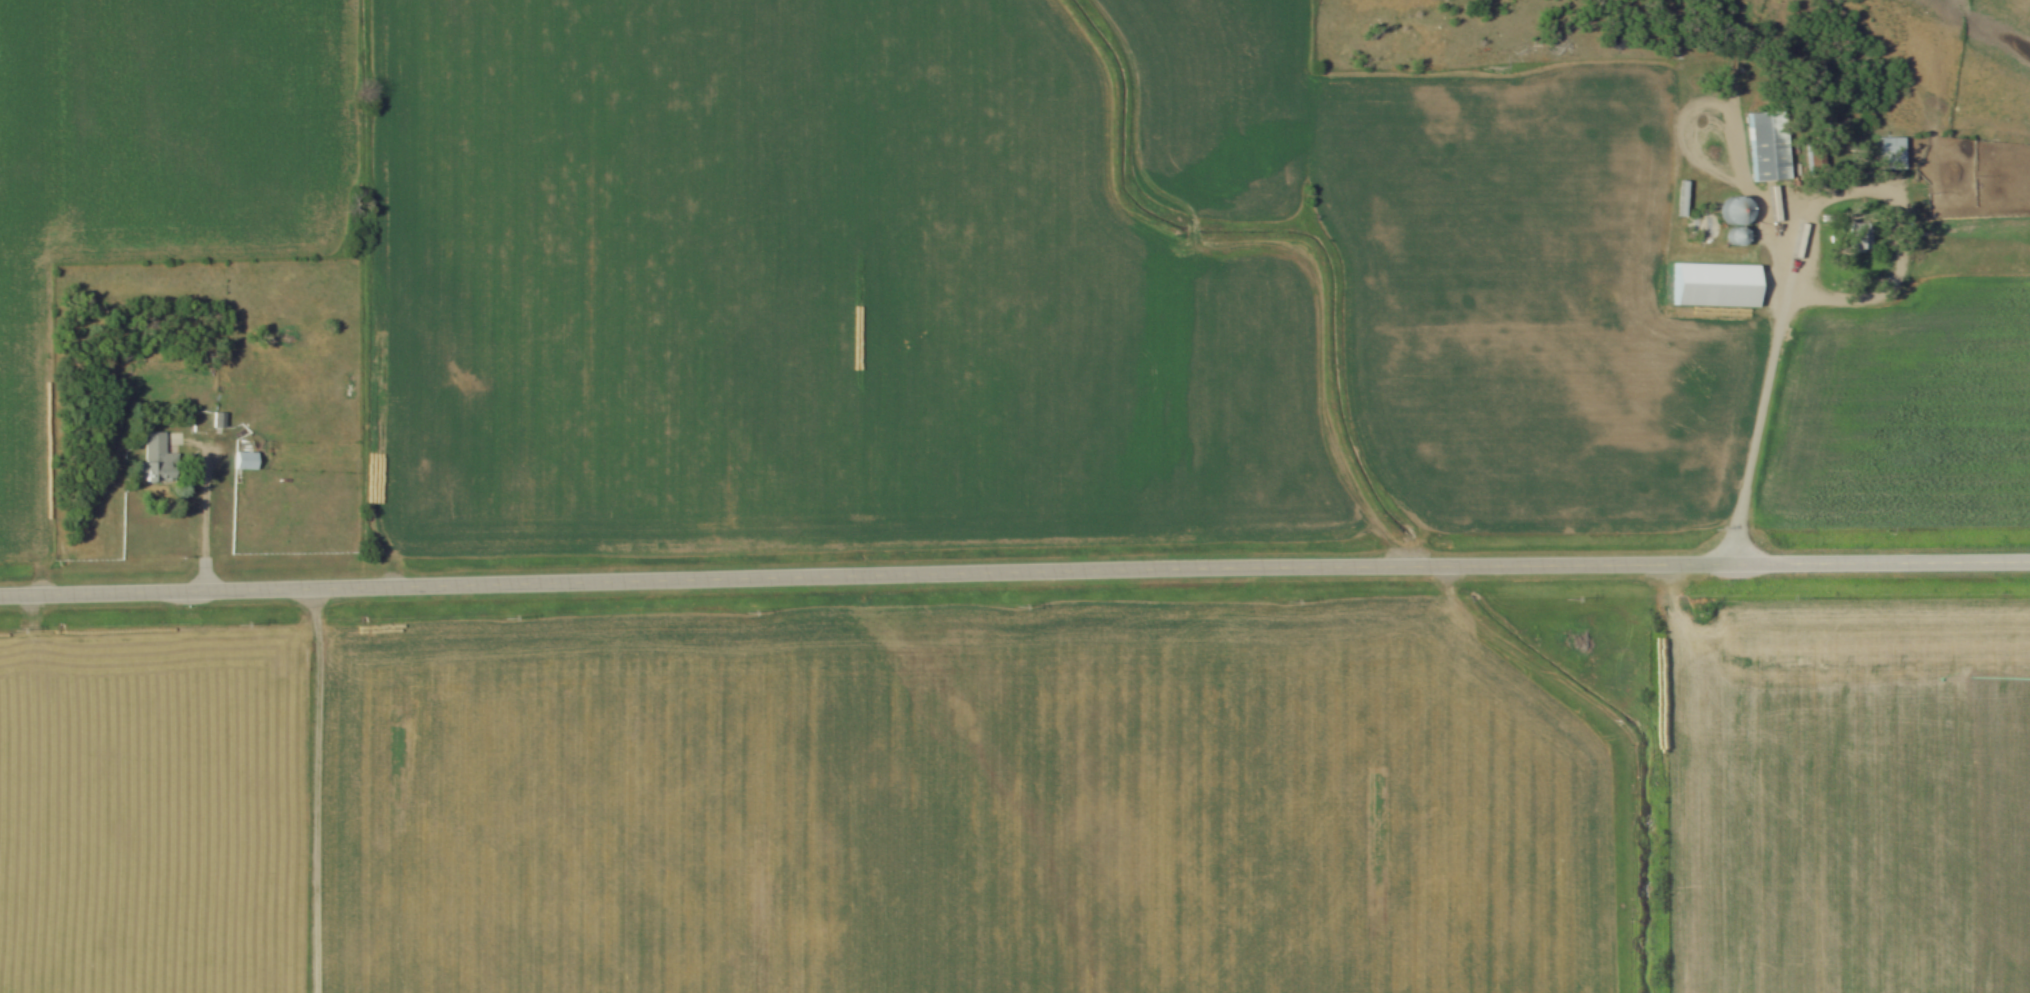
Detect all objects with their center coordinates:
building: (1713, 51)
building: (1764, 142)
building: (1889, 151)
building: (1847, 172)
silo: (1732, 209)
building: (1731, 217)
silo: (1734, 236)
building: (1855, 238)
road: (1904, 241)
crop: (903, 267)
road: (1344, 270)
building: (1712, 285)
road: (1781, 307)
crop: (1909, 412)
building: (217, 419)
building: (152, 460)
building: (244, 461)
road: (203, 498)
road: (1014, 571)
road: (317, 790)
crop: (1850, 796)
crop: (812, 804)

